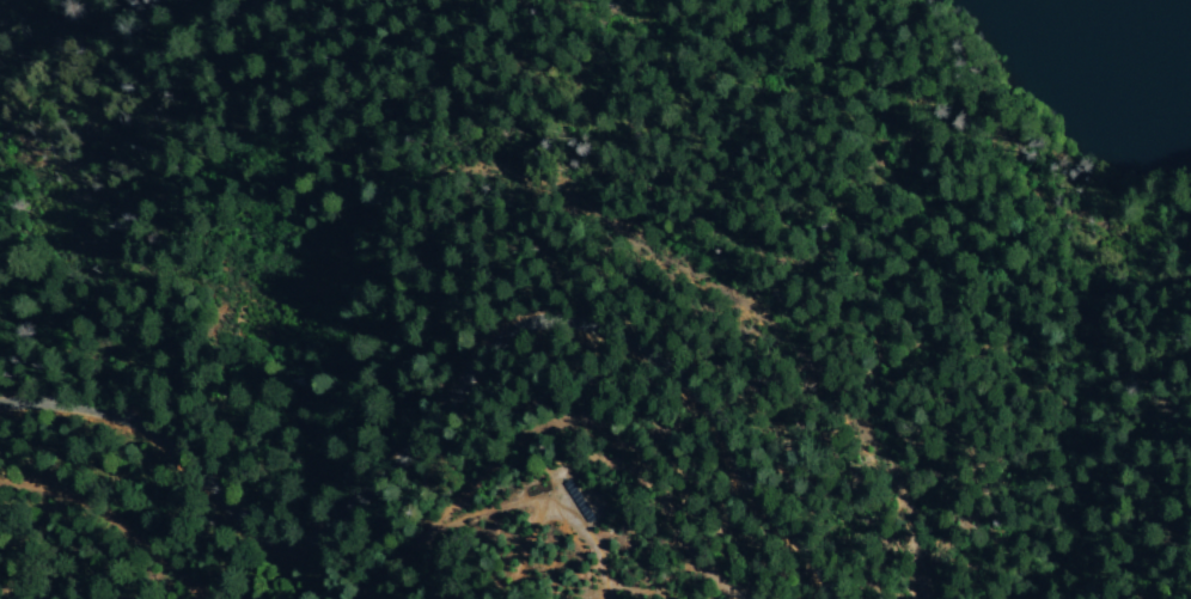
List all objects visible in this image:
road: (446, 403)

